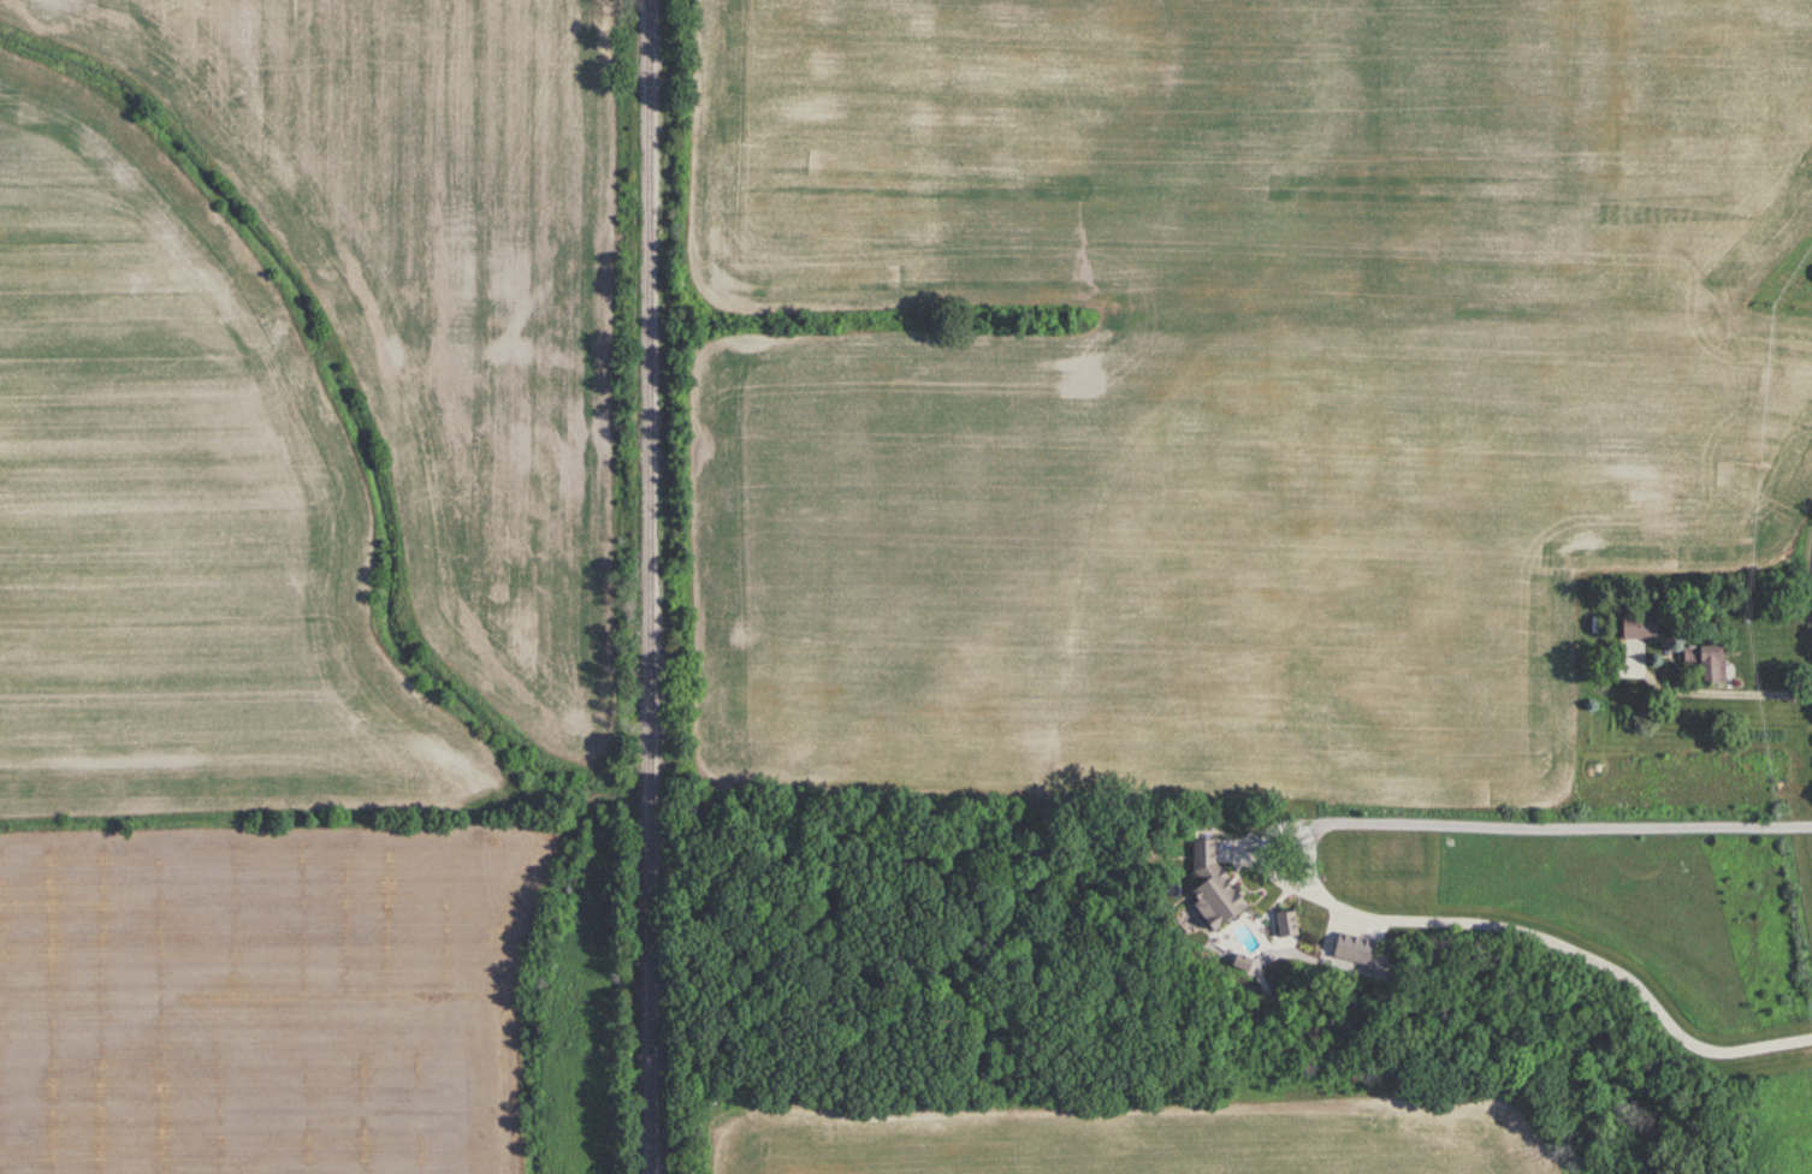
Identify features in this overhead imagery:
railway: (649, 587)
building: (1636, 625)
building: (1705, 662)
road: (1722, 693)
building: (1208, 887)
building: (1283, 924)
road: (1526, 930)
building: (1343, 948)

